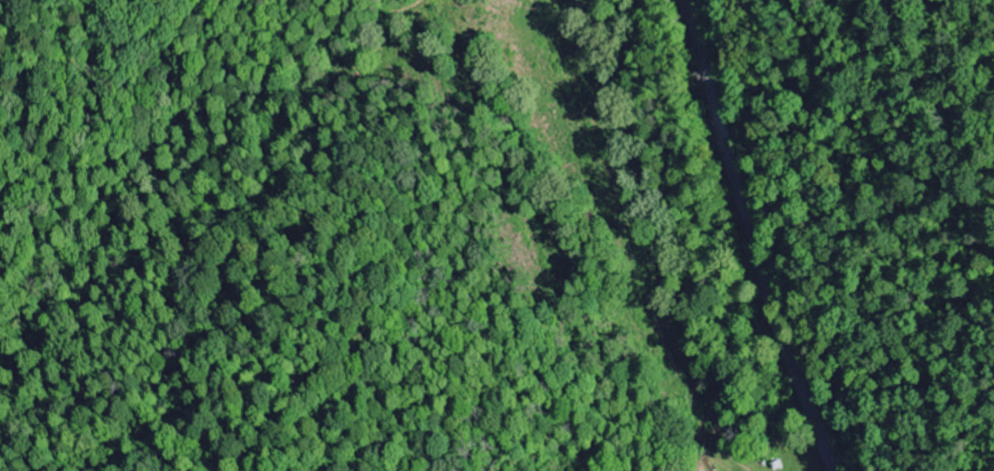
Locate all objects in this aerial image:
road: (753, 238)

